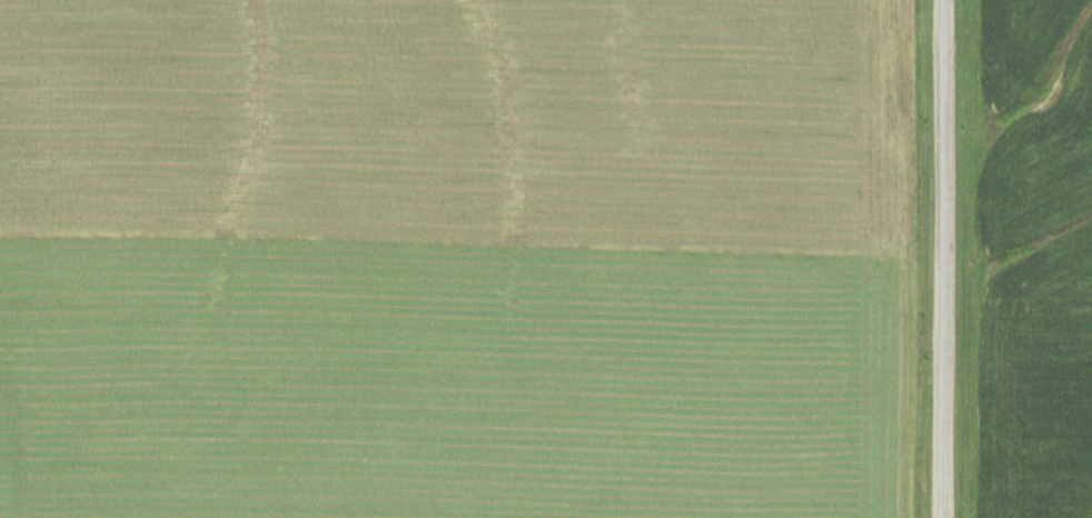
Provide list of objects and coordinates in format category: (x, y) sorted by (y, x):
road: (940, 259)

